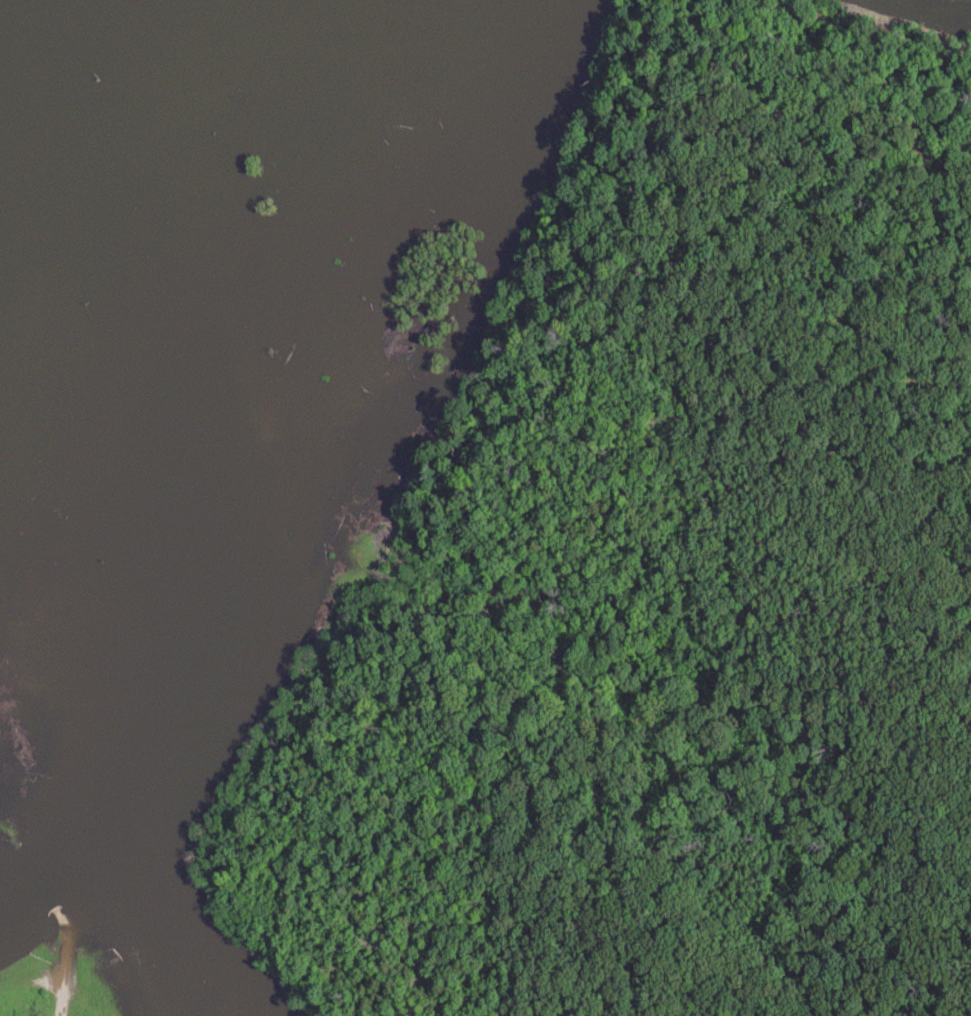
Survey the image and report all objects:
road: (63, 973)

